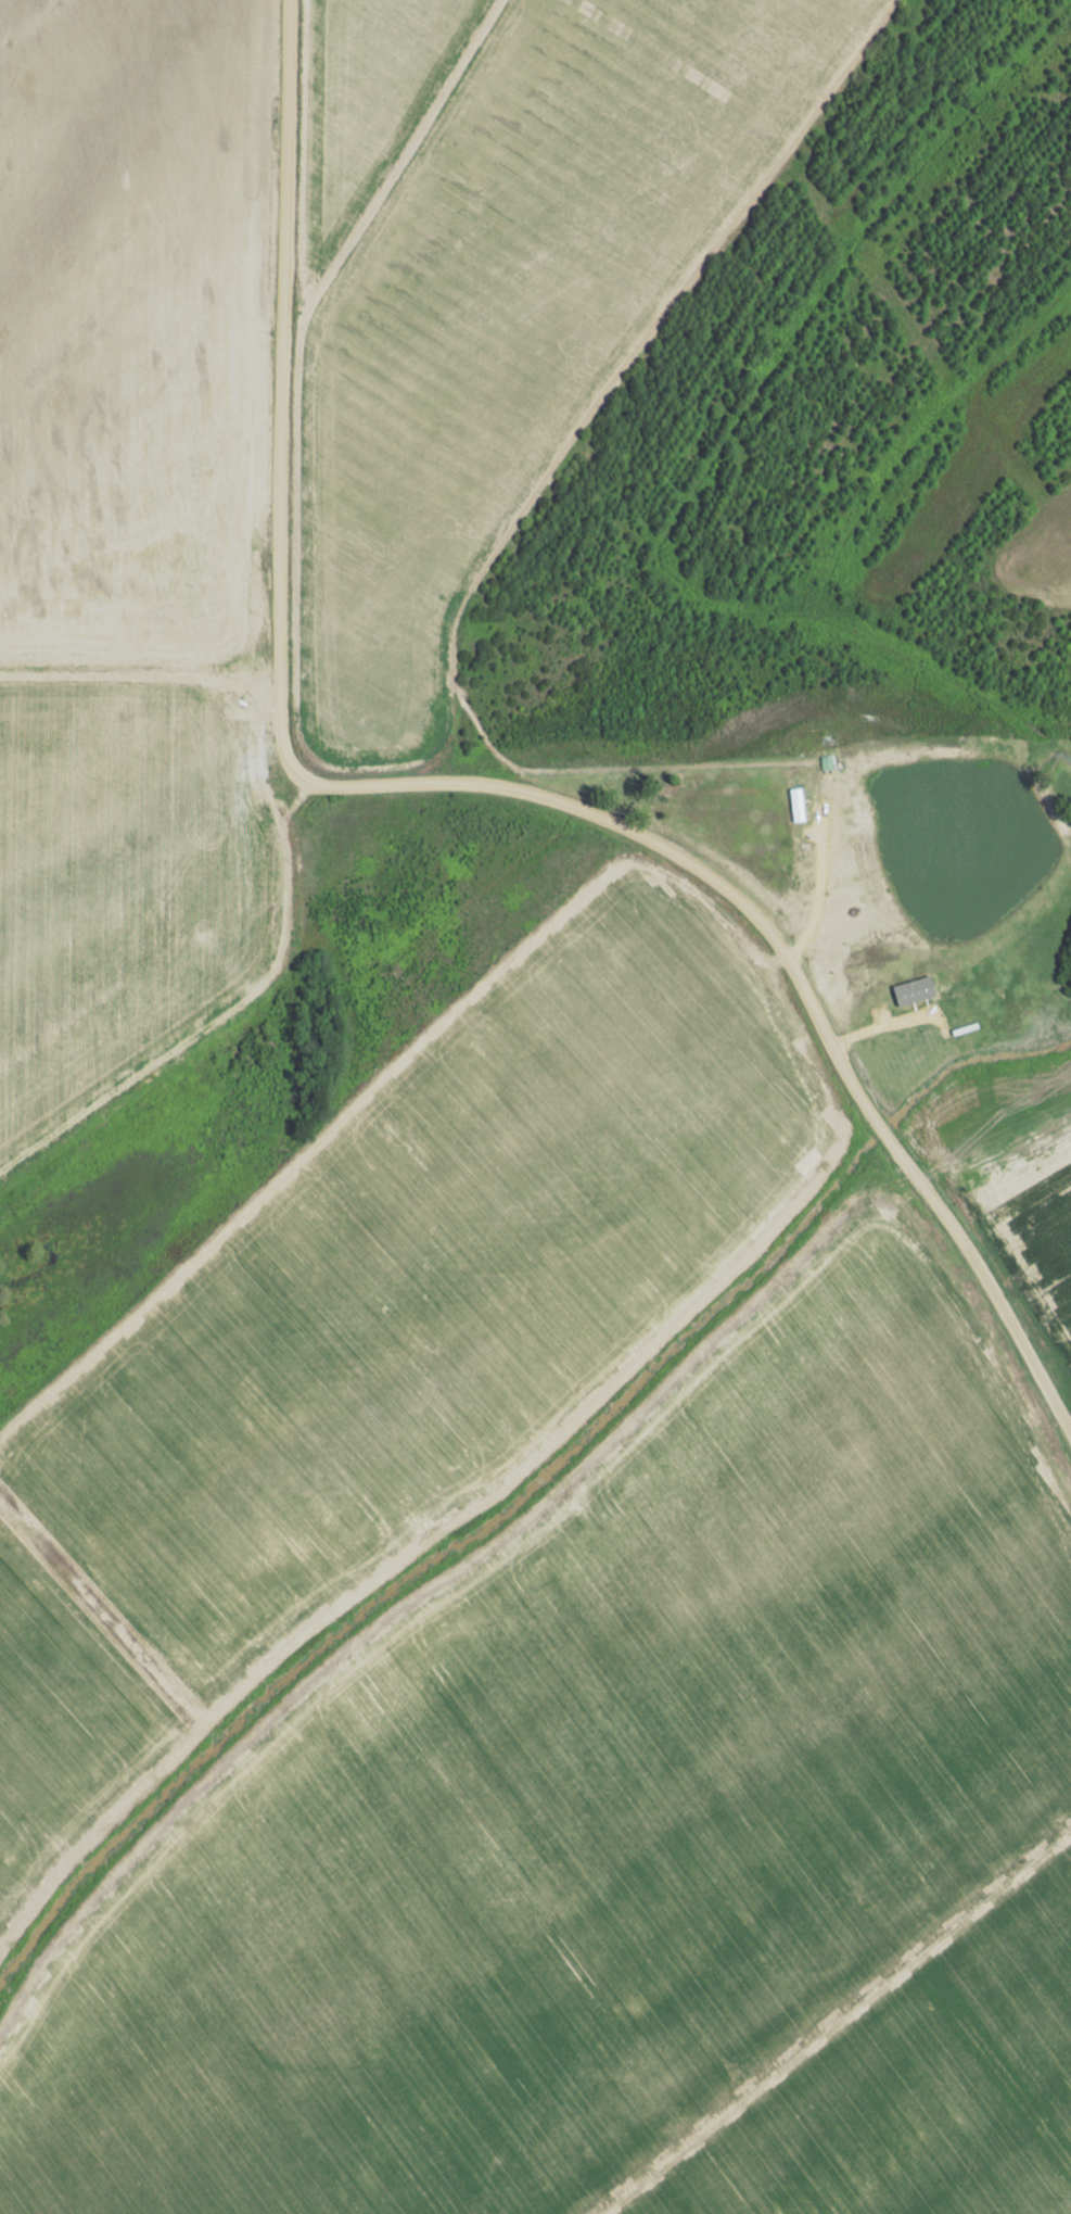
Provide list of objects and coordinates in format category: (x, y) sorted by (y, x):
road: (277, 397)
road: (670, 855)
building: (146, 972)

